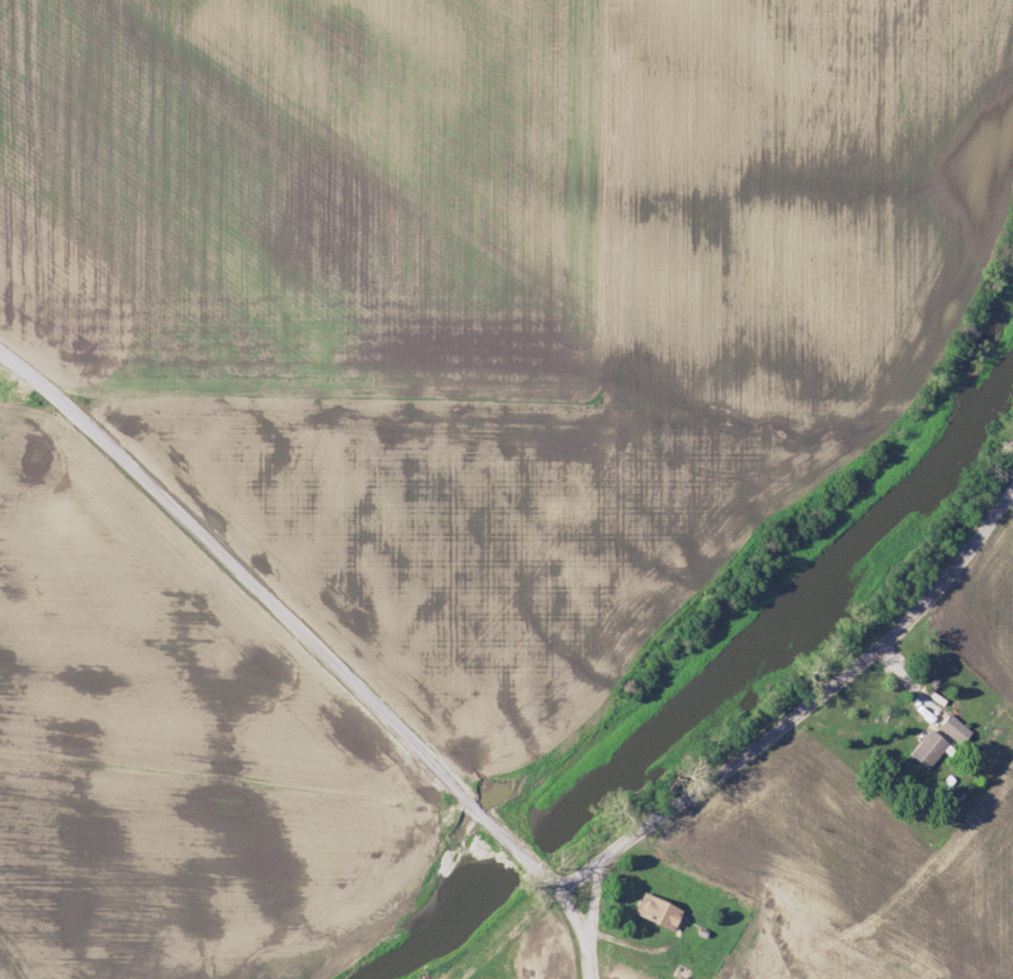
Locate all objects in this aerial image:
road: (264, 598)
road: (801, 716)
building: (953, 730)
building: (926, 751)
road: (529, 863)
building: (655, 914)
road: (576, 919)

